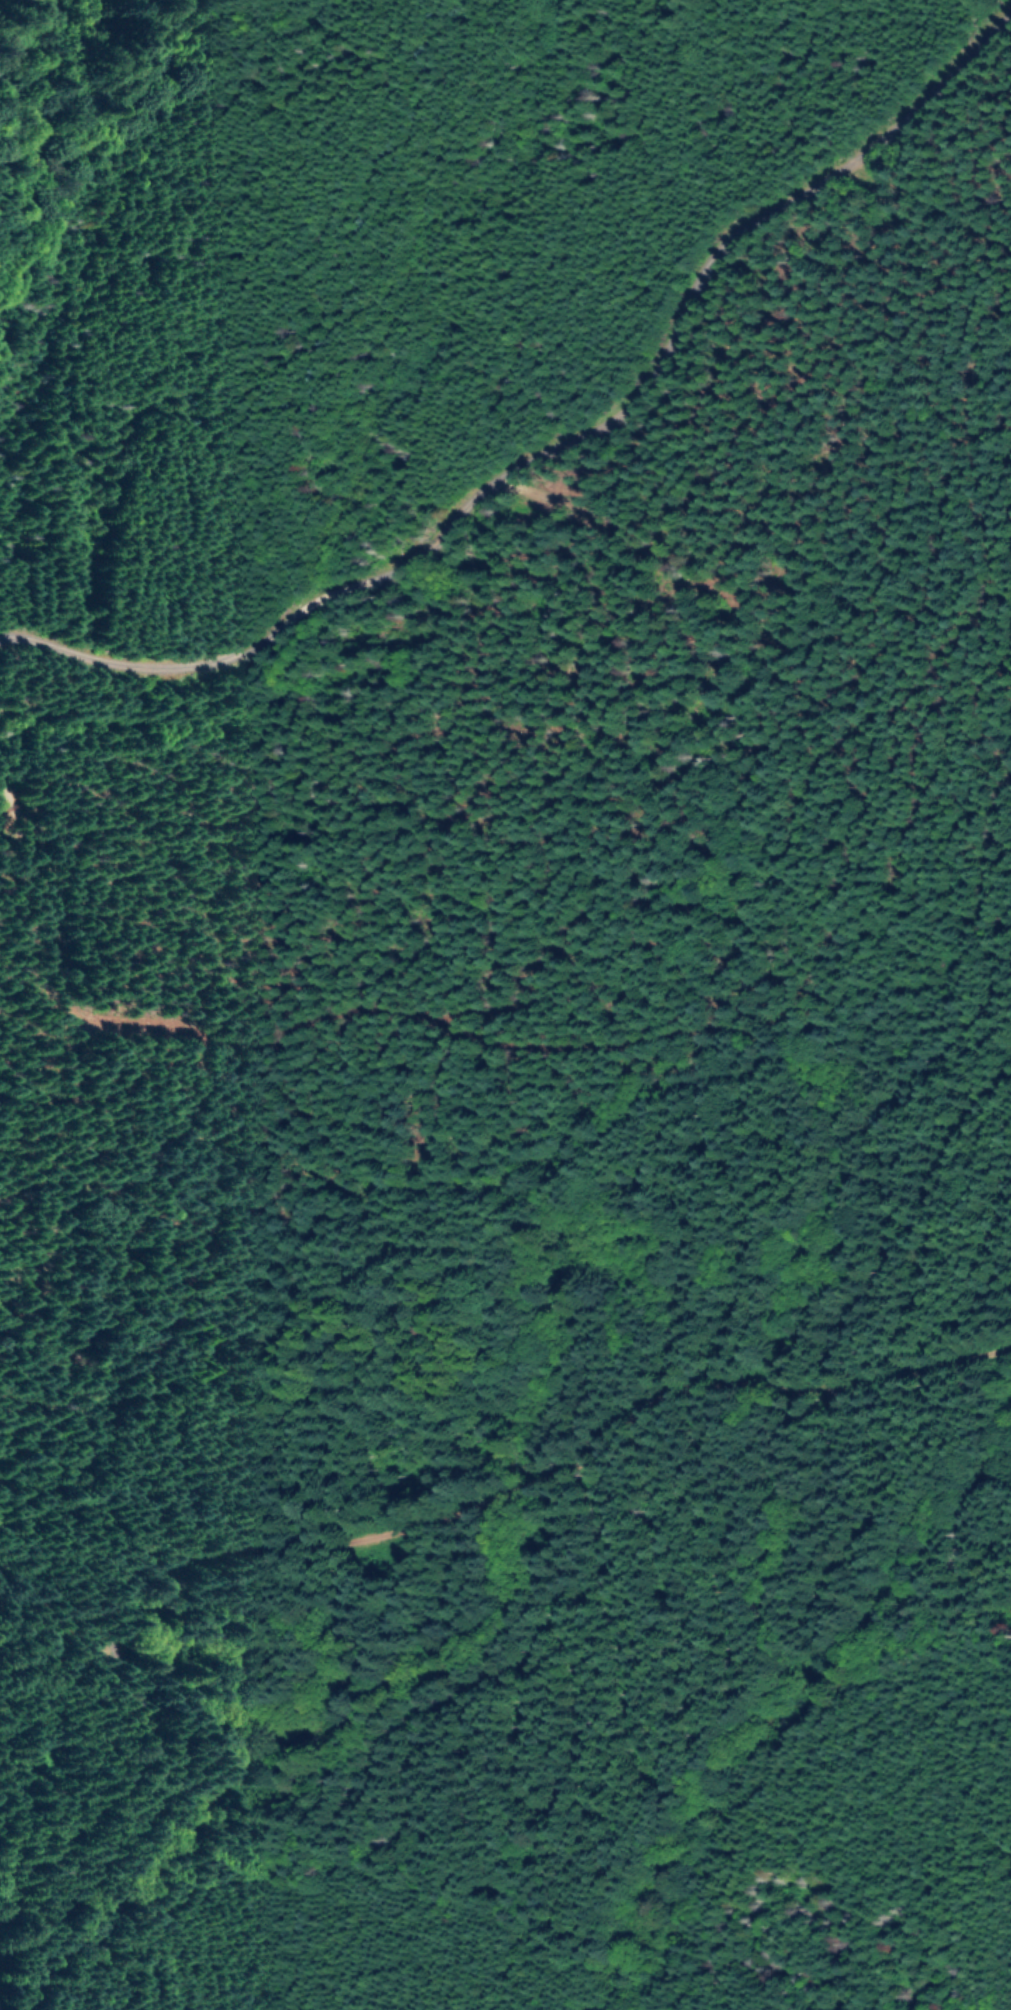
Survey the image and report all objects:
road: (591, 490)
road: (121, 1786)
road: (10, 1981)

